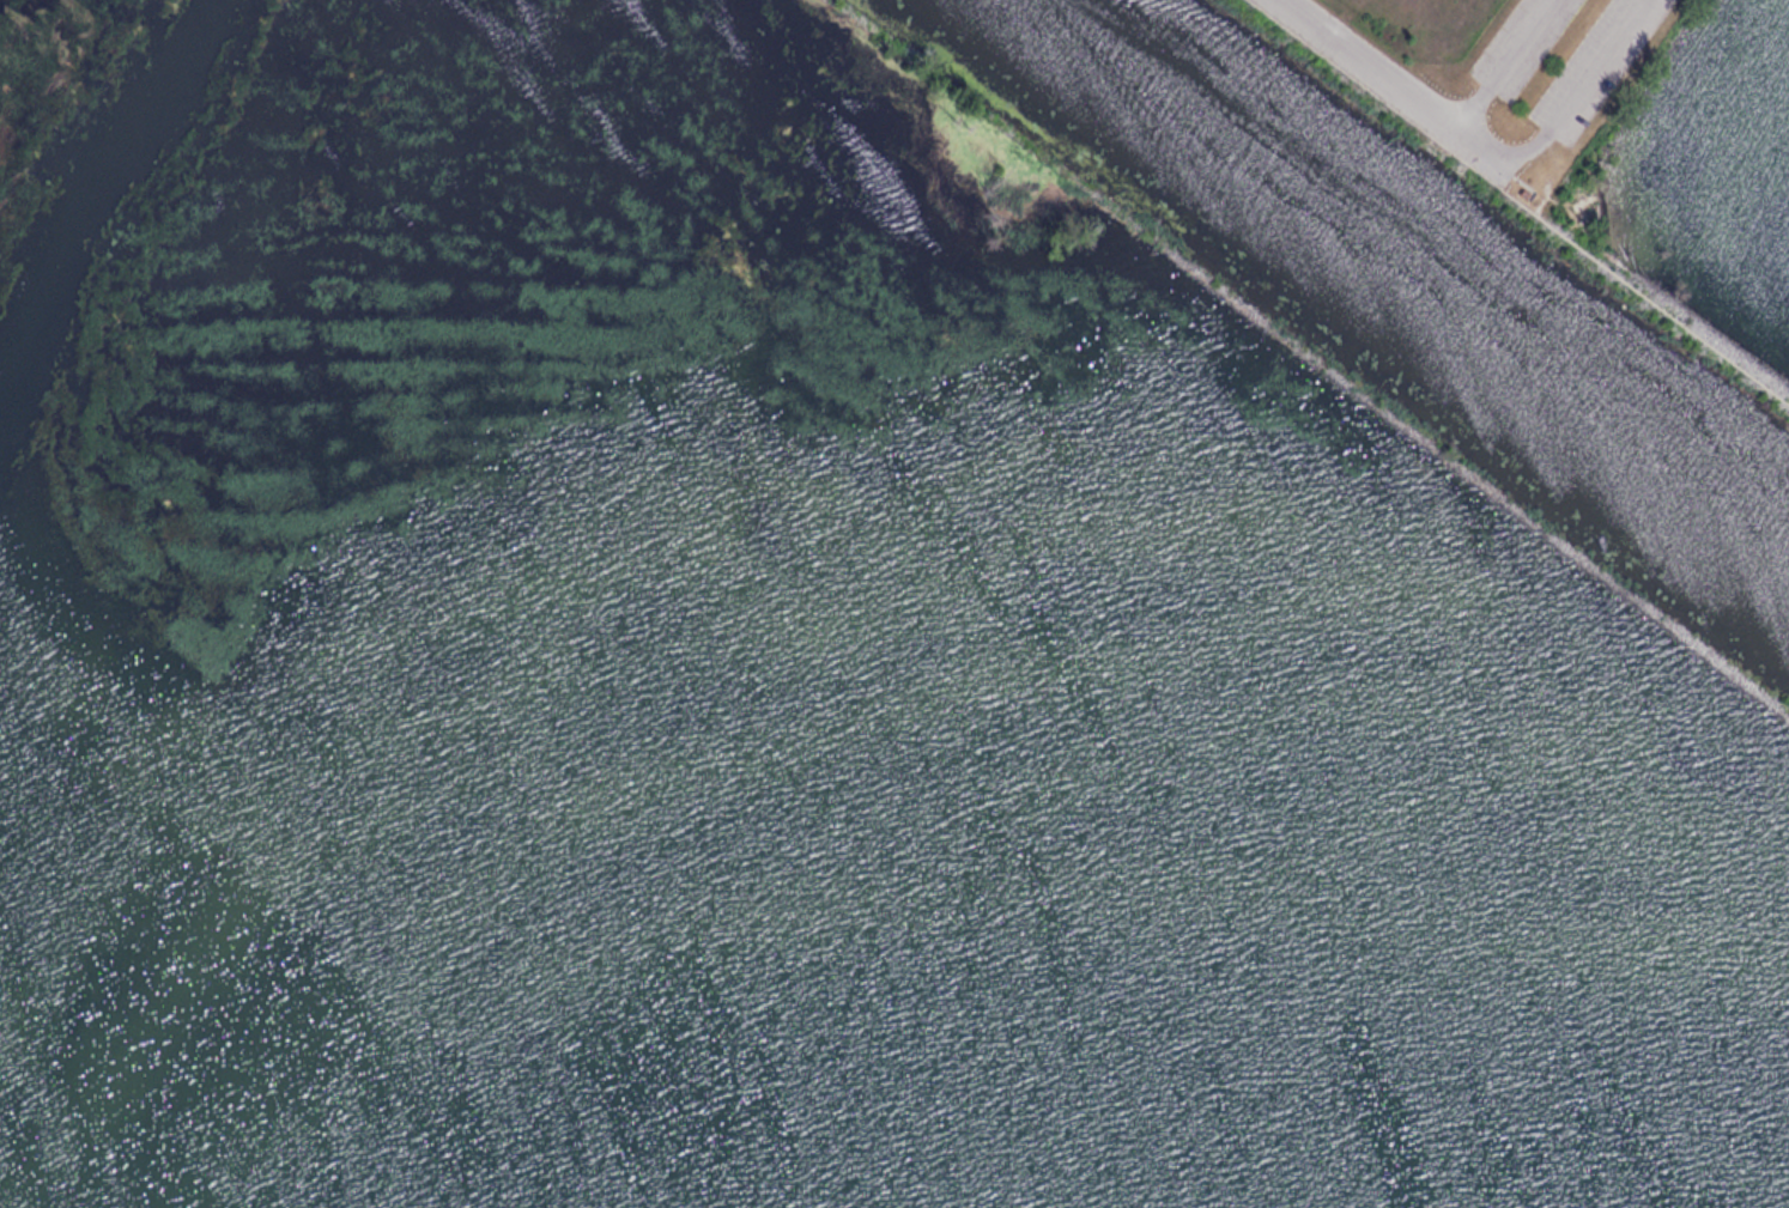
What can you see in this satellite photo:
road: (1504, 61)
road: (1402, 79)
road: (1578, 85)

